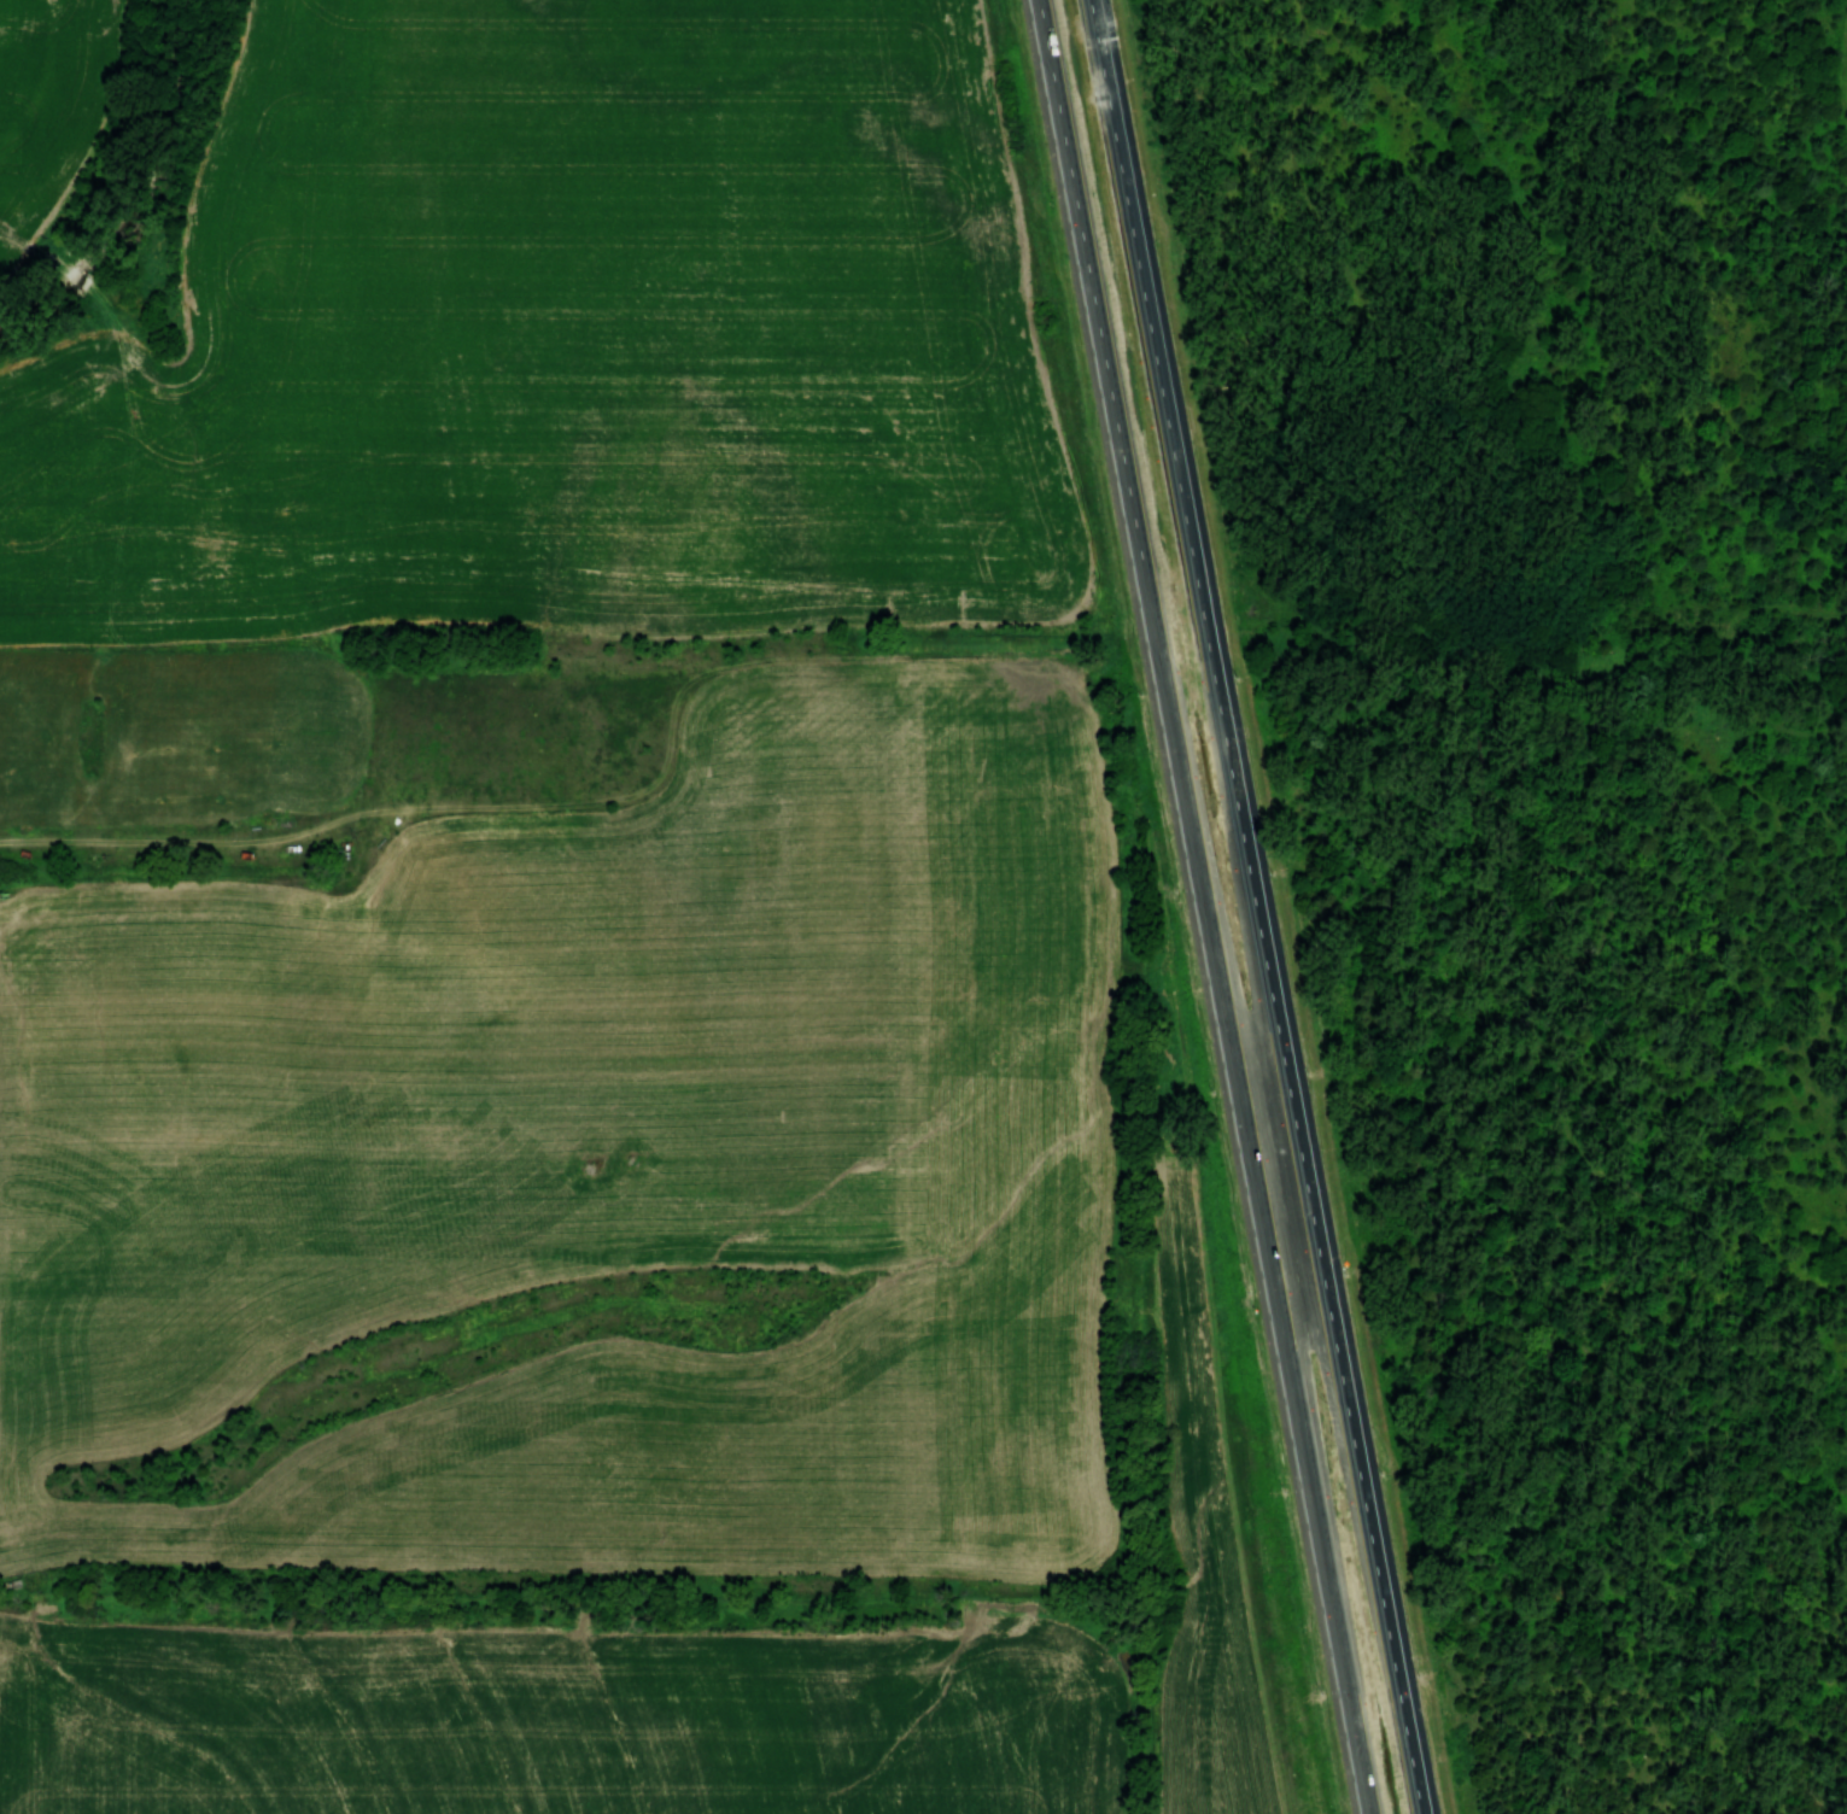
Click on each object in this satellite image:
road: (1134, 516)
road: (1215, 659)
park: (1544, 823)
road: (1600, 913)
road: (1279, 1176)
road: (1377, 1566)

